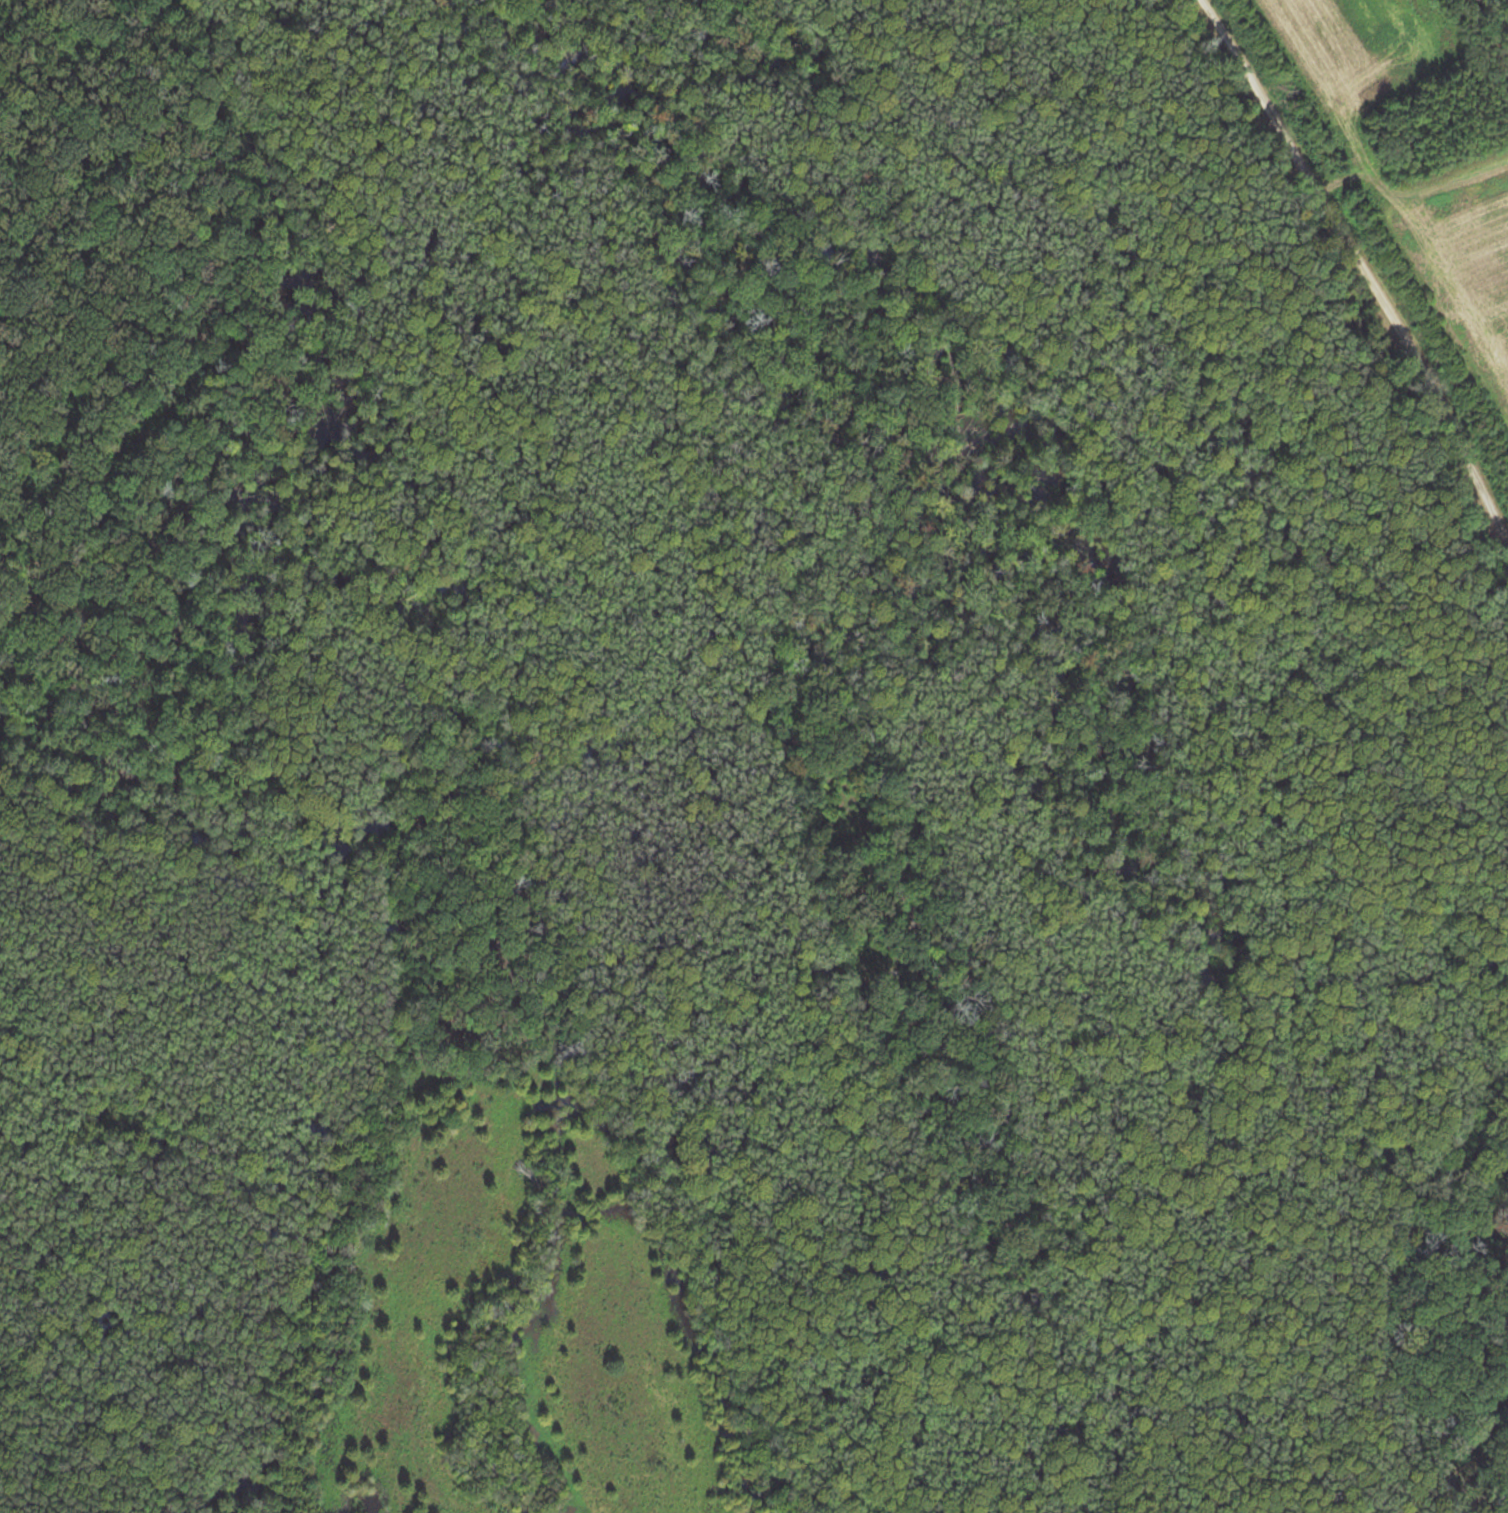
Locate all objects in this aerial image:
road: (1375, 262)

